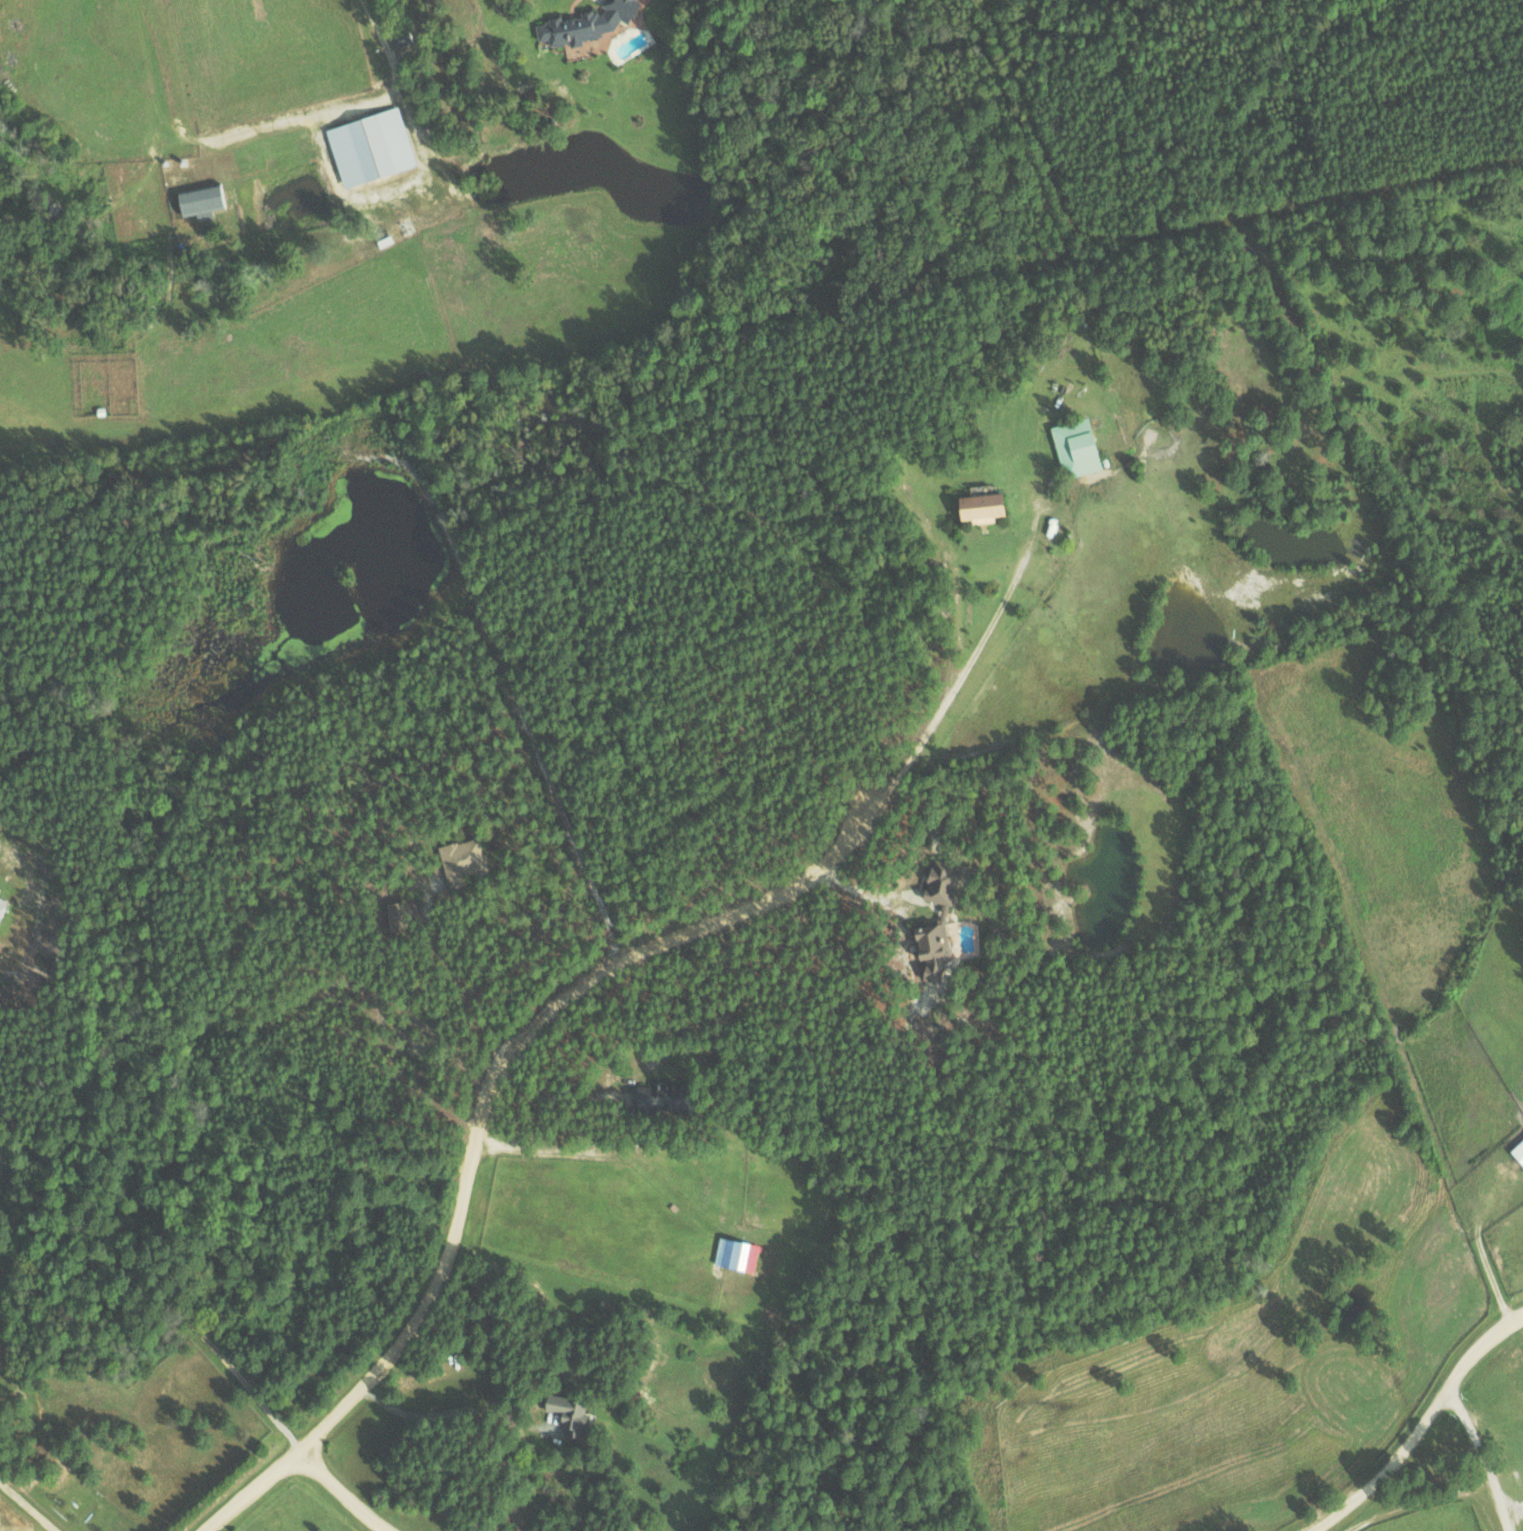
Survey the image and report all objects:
building: (582, 23)
building: (368, 145)
building: (196, 201)
building: (383, 240)
building: (1073, 447)
building: (976, 507)
building: (462, 862)
building: (1, 903)
building: (396, 911)
building: (942, 915)
road: (505, 1047)
building: (1518, 1152)
road: (3, 1166)
building: (734, 1255)
road: (151, 1275)
airport runway: (1518, 1375)
road: (451, 1408)
road: (1411, 1413)
building: (558, 1418)
road: (339, 1492)
road: (27, 1506)

